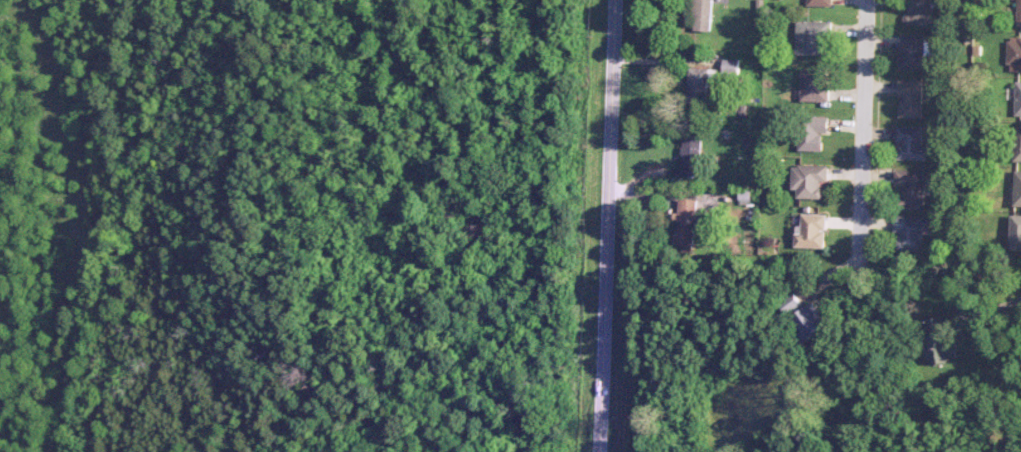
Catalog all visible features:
building: (819, 3)
building: (919, 12)
building: (1019, 13)
building: (703, 15)
building: (812, 38)
building: (912, 51)
building: (1014, 54)
building: (731, 66)
building: (704, 79)
building: (814, 86)
building: (911, 98)
building: (1018, 99)
building: (813, 132)
road: (866, 132)
building: (911, 143)
building: (1017, 144)
building: (693, 155)
building: (809, 180)
building: (911, 186)
building: (1018, 188)
building: (688, 222)
road: (608, 226)
building: (812, 231)
building: (911, 232)
building: (1016, 232)
road: (1001, 301)
building: (792, 304)
building: (810, 321)
building: (939, 341)

